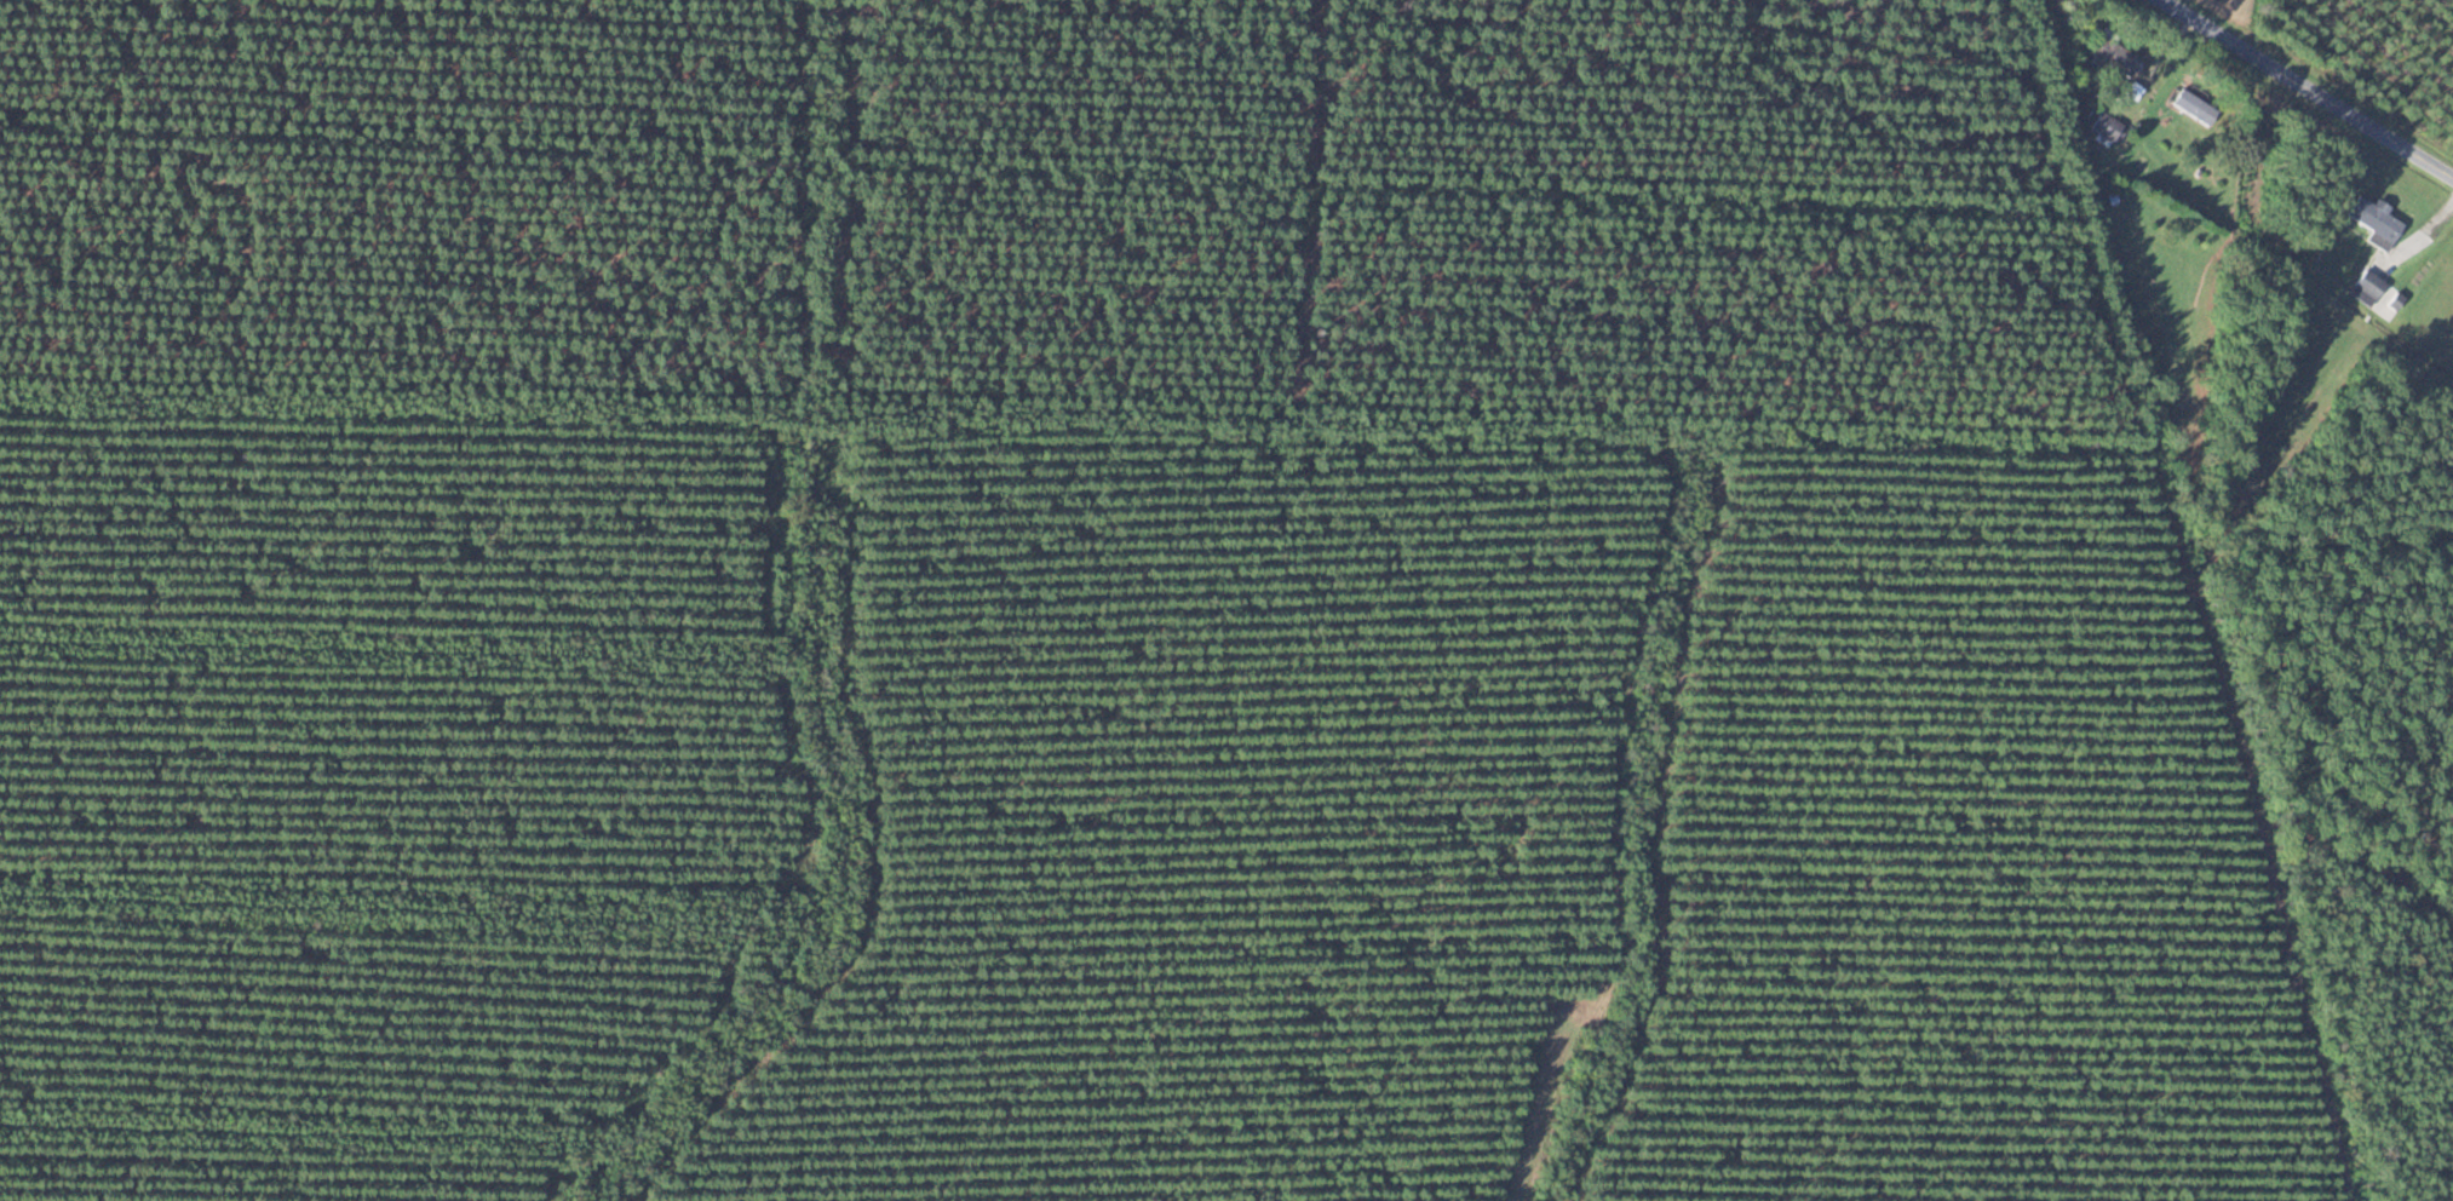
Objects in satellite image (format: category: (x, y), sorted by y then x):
building: (2110, 56)
road: (2319, 81)
building: (2194, 107)
building: (2107, 126)
building: (2376, 222)
building: (2367, 287)

